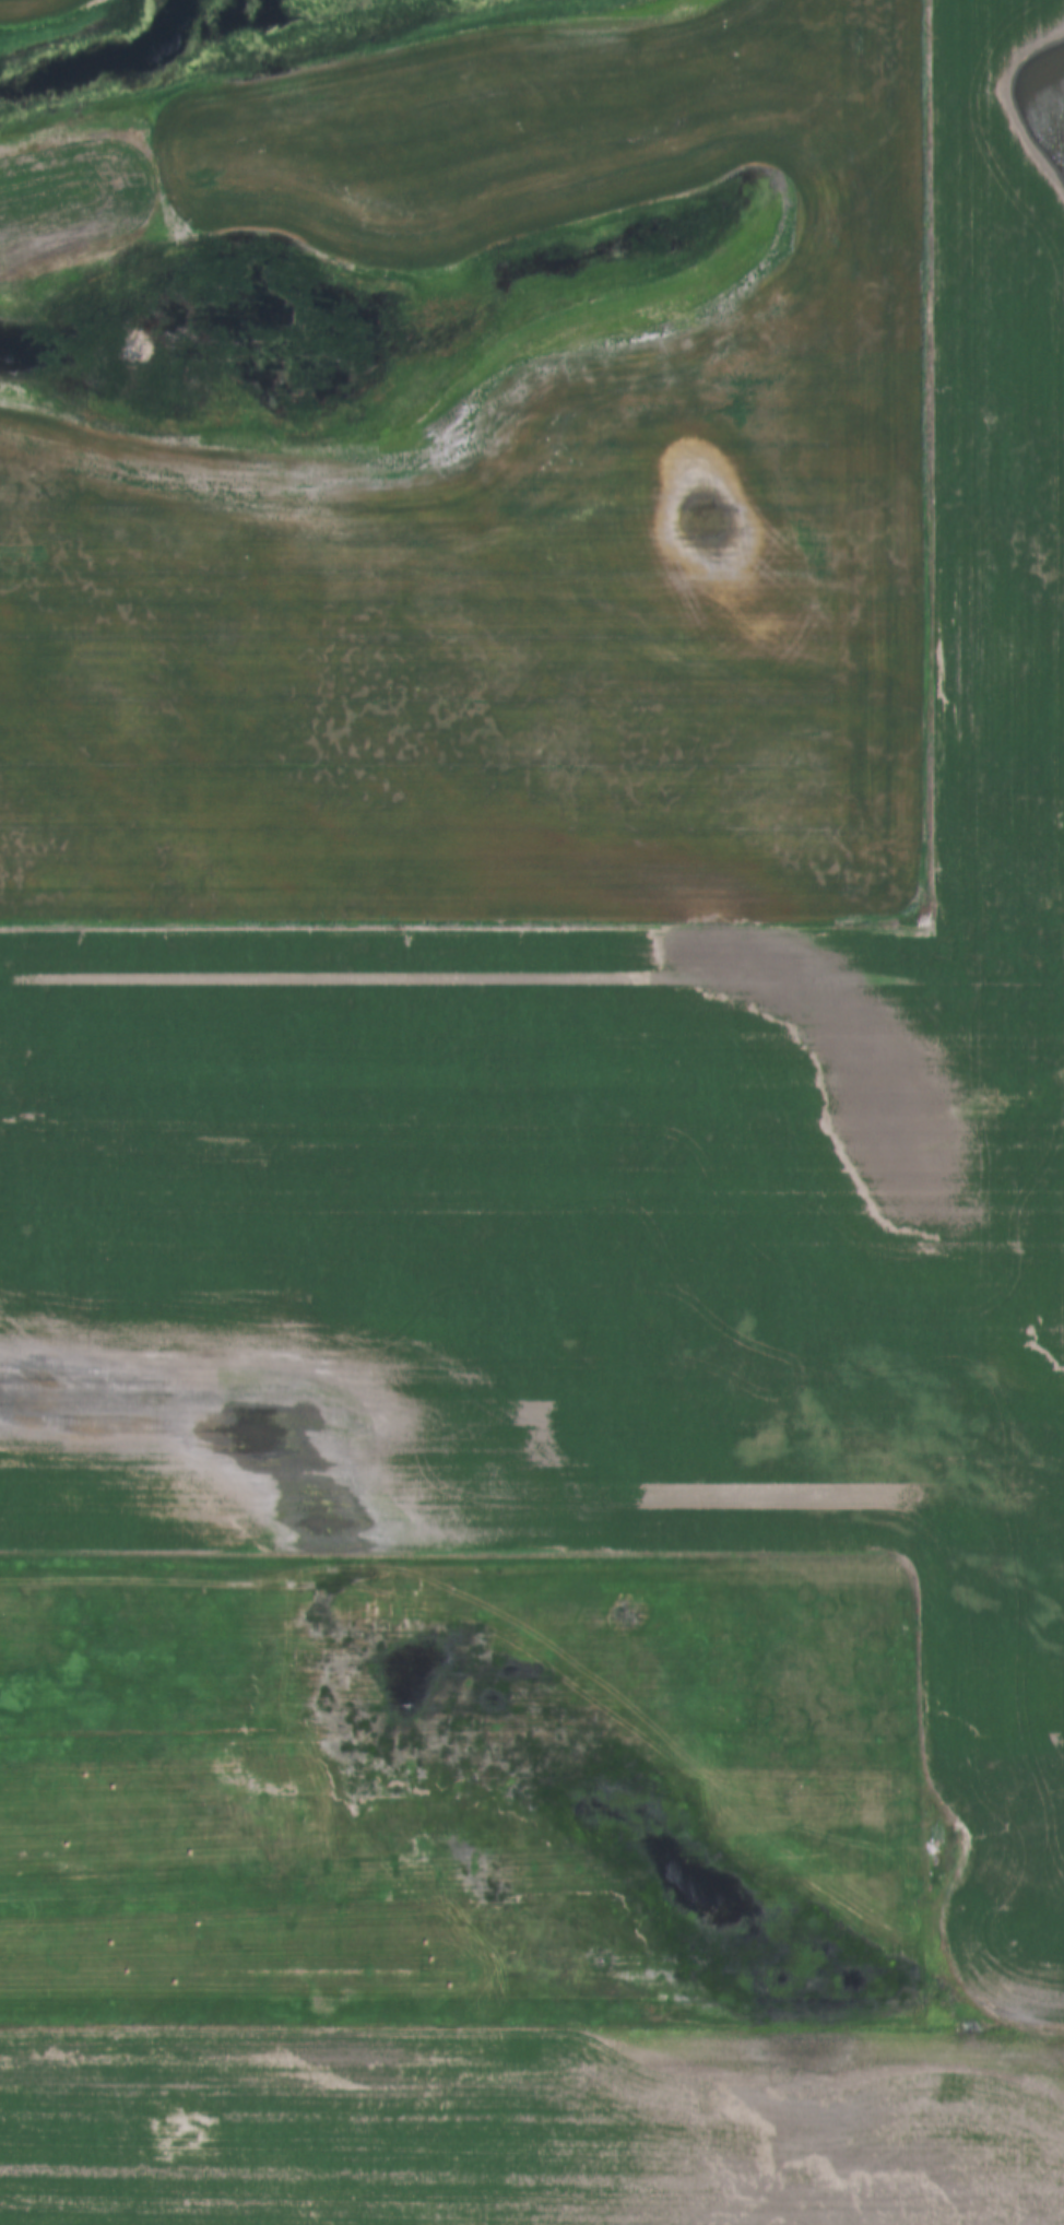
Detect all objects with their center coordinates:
crop: (531, 2127)

